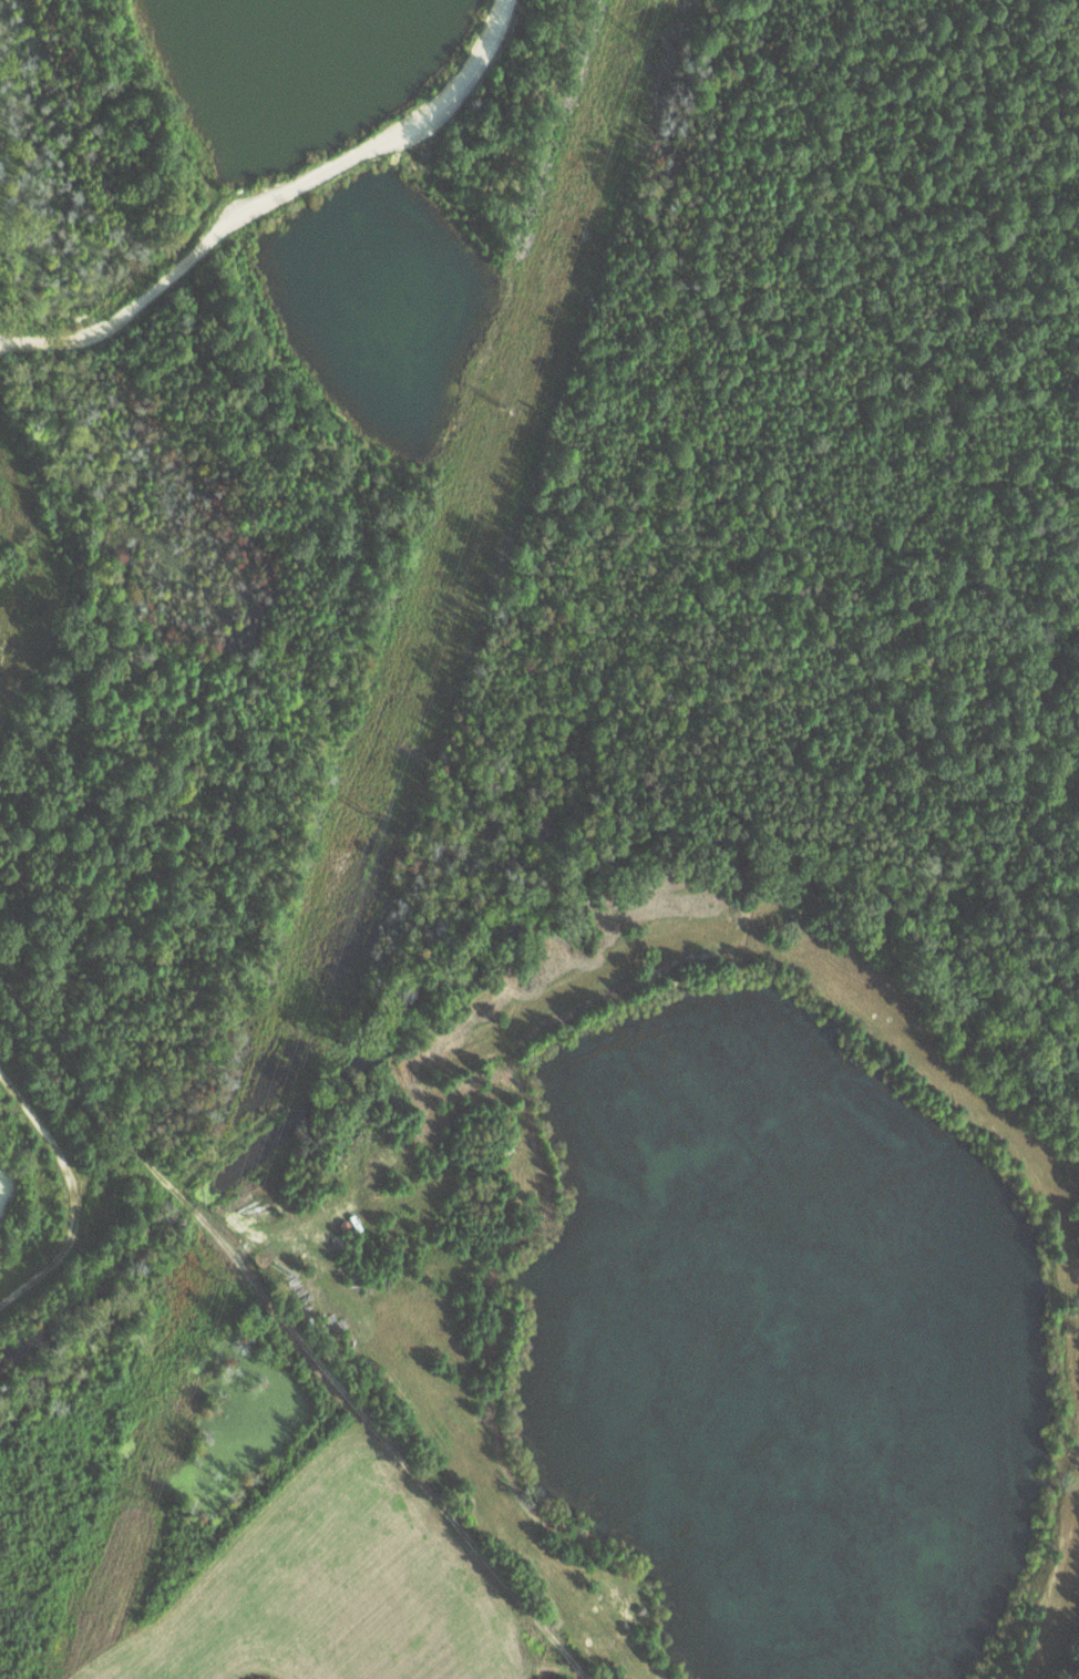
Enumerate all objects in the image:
power tower: (629, 37)
power tower: (506, 413)
power tower: (374, 816)
power tower: (215, 1277)
power tower: (138, 1502)

